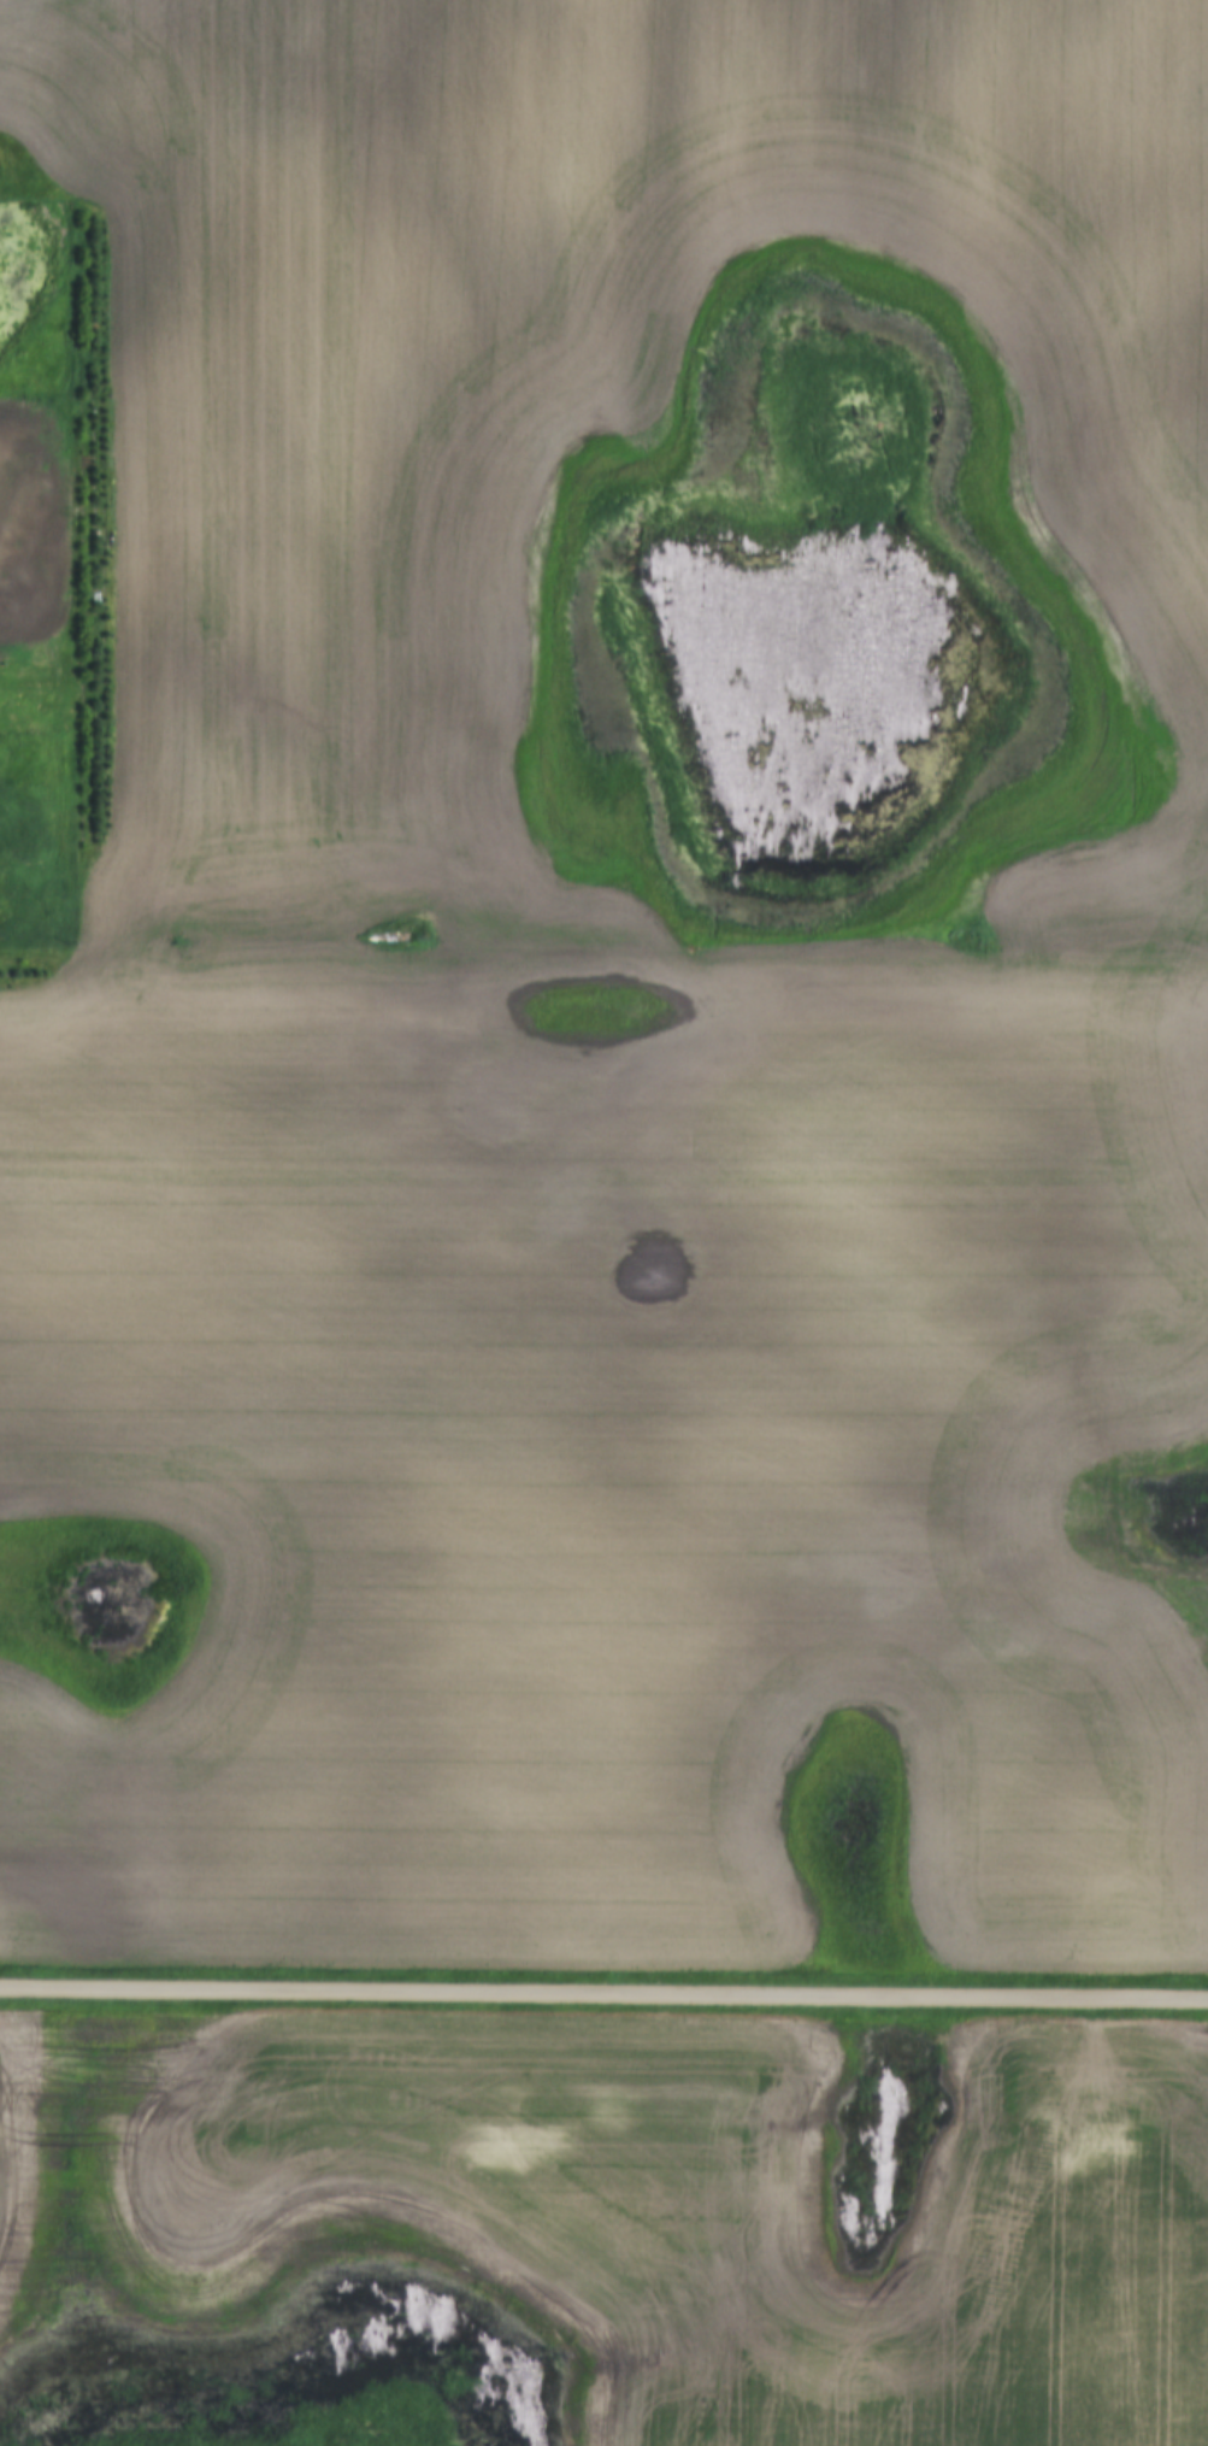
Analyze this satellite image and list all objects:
road: (603, 1994)

